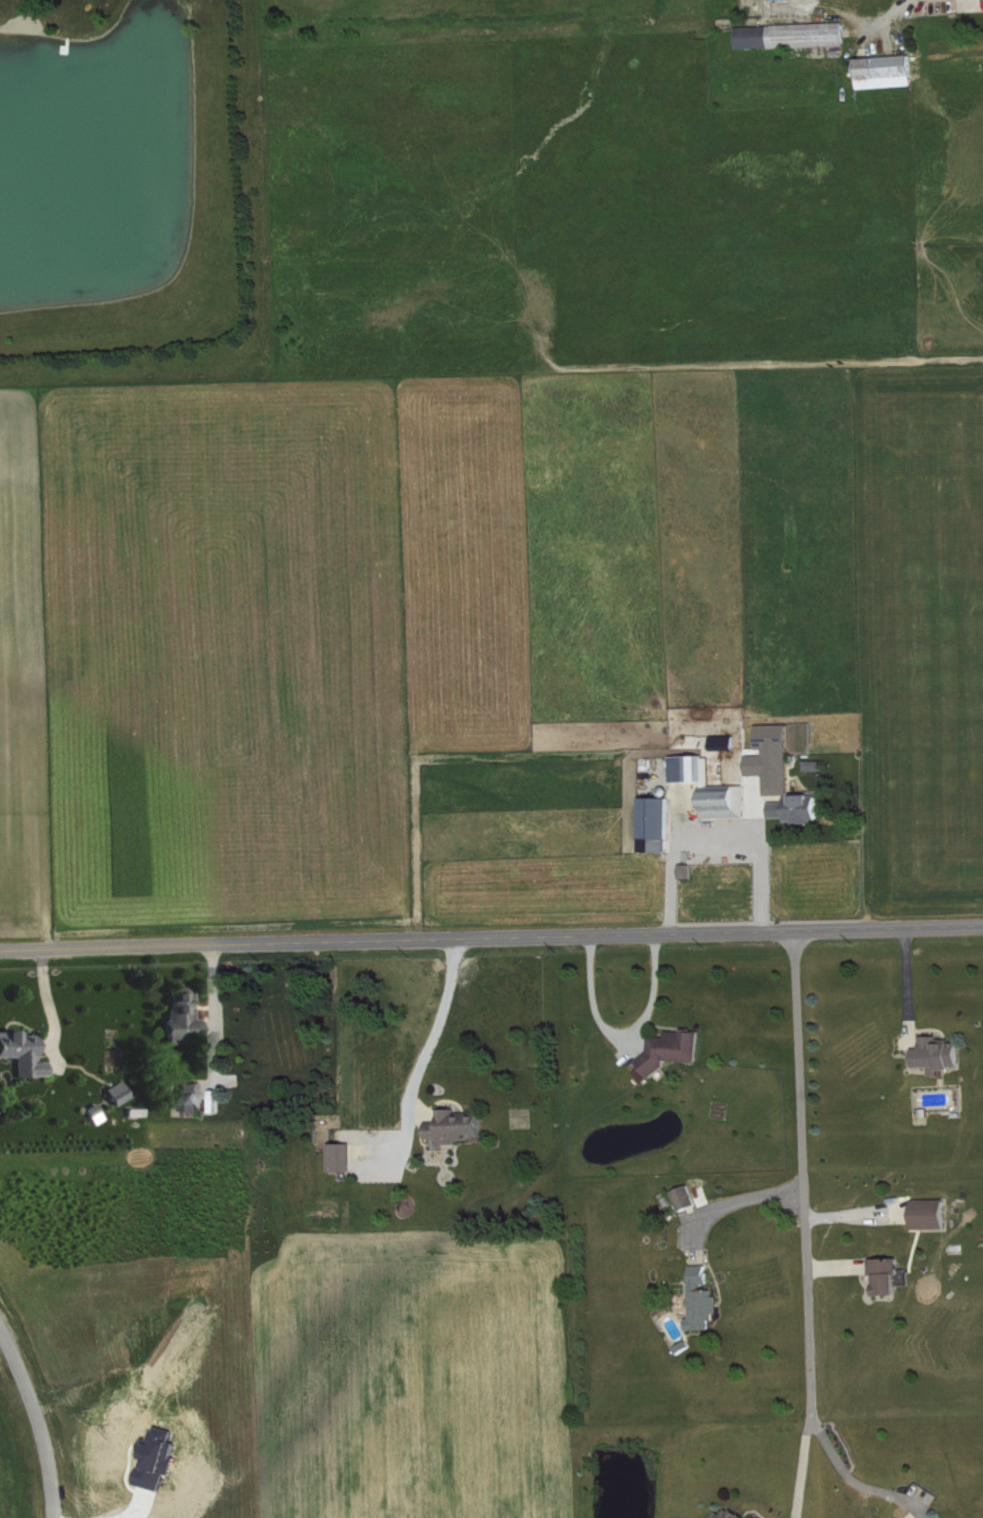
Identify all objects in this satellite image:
road: (898, 10)
building: (788, 34)
building: (881, 70)
building: (720, 740)
building: (768, 757)
building: (809, 764)
building: (707, 786)
building: (793, 807)
building: (651, 822)
road: (718, 837)
road: (491, 938)
road: (906, 982)
road: (212, 1009)
building: (188, 1019)
road: (439, 1022)
road: (625, 1038)
building: (669, 1047)
building: (933, 1053)
building: (124, 1092)
building: (195, 1096)
building: (463, 1126)
building: (347, 1156)
building: (684, 1196)
road: (754, 1200)
building: (925, 1212)
road: (805, 1224)
building: (882, 1274)
building: (700, 1296)
road: (40, 1414)
road: (843, 1470)
building: (729, 1513)
building: (757, 1516)
building: (899, 1517)
building: (929, 1517)

